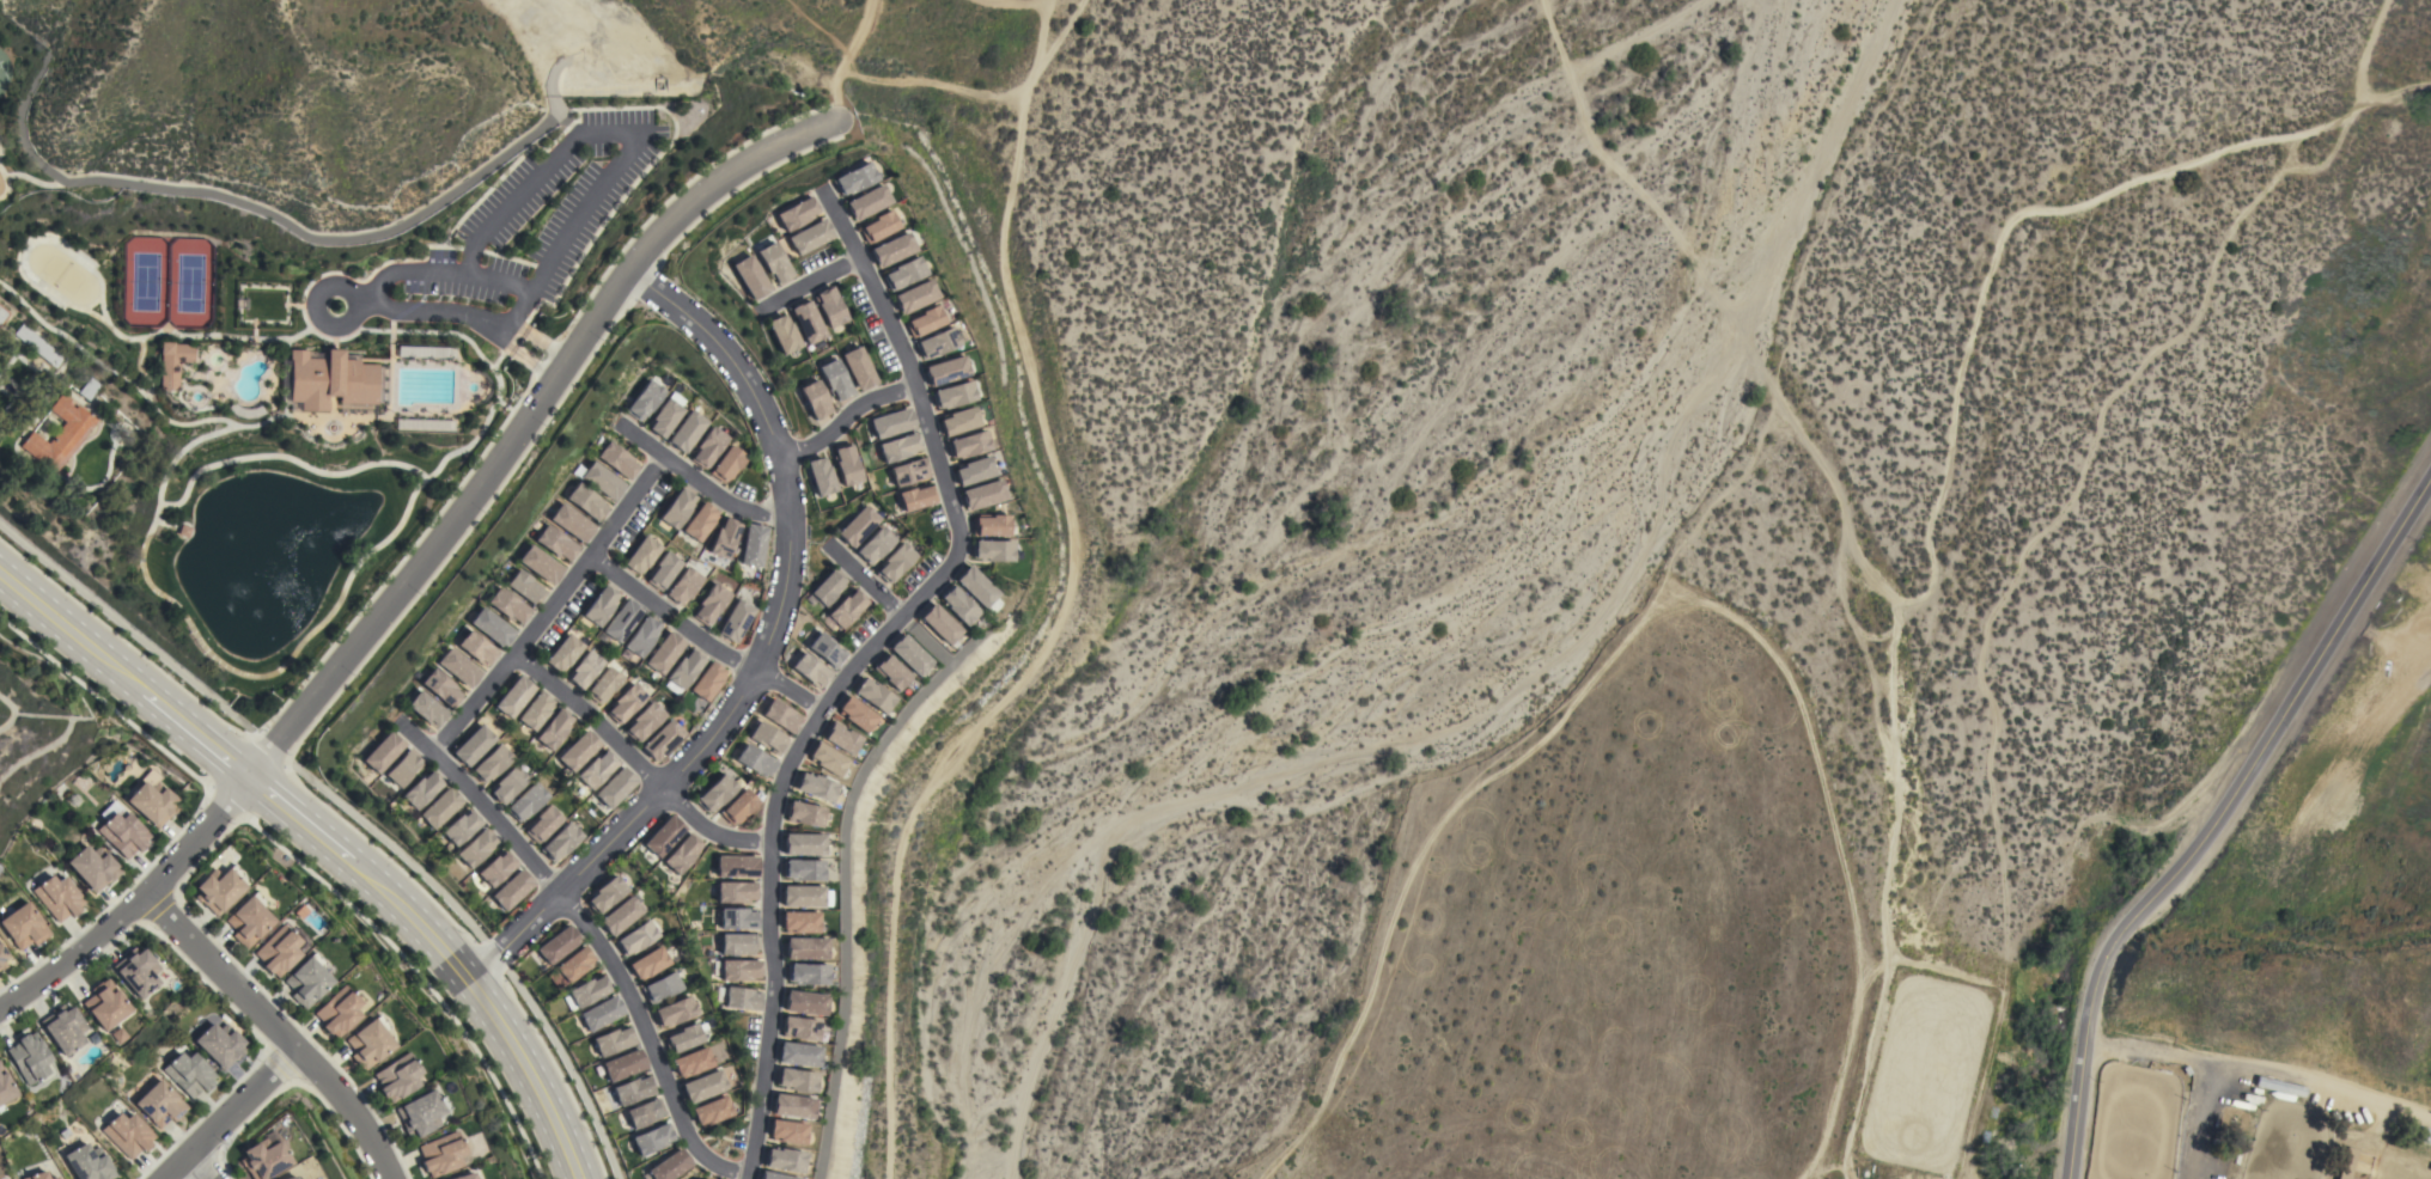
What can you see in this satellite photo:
road: (815, 26)
road: (1633, 32)
road: (842, 57)
road: (931, 81)
road: (2374, 91)
road: (2415, 91)
road: (2289, 151)
road: (2307, 164)
building: (855, 178)
road: (529, 183)
building: (867, 202)
building: (798, 214)
building: (878, 226)
building: (810, 236)
building: (891, 249)
building: (775, 263)
wastewater plant: (98, 271)
building: (902, 273)
building: (751, 276)
road: (495, 282)
road: (805, 283)
building: (913, 295)
road: (313, 304)
building: (829, 306)
building: (2, 314)
building: (922, 320)
building: (808, 322)
building: (785, 334)
building: (936, 342)
building: (37, 344)
building: (172, 362)
building: (858, 367)
building: (945, 369)
building: (835, 379)
building: (331, 381)
building: (90, 389)
building: (952, 395)
building: (647, 399)
building: (816, 399)
road: (514, 417)
building: (666, 417)
road: (843, 417)
building: (958, 421)
building: (892, 422)
building: (688, 430)
building: (61, 434)
building: (968, 444)
building: (709, 447)
building: (898, 447)
building: (619, 459)
building: (729, 464)
building: (846, 464)
building: (974, 470)
building: (909, 472)
building: (821, 476)
building: (603, 481)
road: (700, 485)
building: (983, 494)
building: (916, 496)
building: (587, 501)
building: (677, 507)
road: (1923, 507)
building: (700, 521)
building: (572, 523)
building: (858, 525)
building: (991, 525)
building: (724, 538)
building: (556, 543)
building: (753, 545)
building: (876, 545)
building: (992, 550)
building: (641, 555)
building: (895, 562)
building: (542, 564)
building: (663, 570)
road: (861, 580)
road: (629, 585)
building: (526, 586)
building: (683, 586)
building: (828, 587)
building: (980, 588)
building: (711, 603)
building: (510, 605)
building: (601, 605)
building: (959, 605)
road: (550, 607)
building: (846, 607)
road: (1059, 609)
building: (622, 621)
building: (736, 621)
building: (940, 623)
building: (493, 627)
road: (66, 629)
road: (126, 630)
building: (642, 636)
building: (479, 648)
building: (827, 649)
road: (762, 652)
building: (563, 653)
building: (664, 653)
building: (910, 654)
road: (860, 665)
building: (461, 666)
building: (684, 668)
building: (585, 670)
building: (810, 670)
building: (891, 671)
road: (750, 672)
building: (708, 682)
road: (549, 683)
building: (604, 685)
building: (443, 688)
building: (873, 695)
building: (514, 696)
building: (626, 703)
road: (103, 707)
building: (427, 708)
building: (536, 710)
building: (857, 713)
building: (781, 715)
building: (645, 721)
building: (554, 728)
road: (188, 731)
building: (841, 737)
building: (768, 738)
building: (663, 740)
building: (475, 745)
road: (269, 749)
building: (579, 751)
building: (384, 752)
building: (827, 759)
building: (755, 760)
building: (493, 763)
building: (406, 768)
building: (597, 769)
building: (508, 784)
building: (816, 786)
building: (615, 787)
building: (424, 789)
building: (715, 793)
building: (152, 800)
building: (528, 801)
road: (674, 802)
road: (225, 805)
building: (738, 806)
building: (441, 807)
road: (482, 808)
building: (805, 813)
road: (2216, 820)
building: (543, 824)
road: (303, 825)
building: (462, 826)
building: (124, 833)
building: (664, 836)
building: (561, 842)
building: (804, 844)
building: (477, 848)
building: (682, 853)
building: (737, 866)
building: (93, 868)
building: (498, 868)
building: (803, 869)
building: (219, 888)
building: (512, 890)
building: (736, 891)
building: (605, 893)
building: (806, 896)
building: (59, 897)
road: (132, 904)
building: (621, 915)
building: (738, 918)
building: (249, 920)
building: (800, 922)
building: (24, 926)
building: (636, 937)
building: (738, 943)
road: (483, 945)
building: (558, 945)
building: (808, 948)
building: (278, 951)
building: (2, 957)
building: (648, 963)
building: (571, 967)
building: (741, 970)
building: (138, 971)
building: (809, 973)
road: (416, 977)
building: (307, 979)
building: (662, 988)
building: (586, 991)
building: (743, 998)
building: (808, 1002)
building: (106, 1004)
building: (339, 1012)
road: (487, 1012)
building: (675, 1012)
building: (602, 1013)
building: (63, 1027)
road: (278, 1027)
building: (803, 1027)
building: (683, 1038)
road: (653, 1039)
building: (614, 1040)
building: (368, 1043)
building: (220, 1044)
building: (802, 1053)
building: (32, 1058)
building: (691, 1062)
building: (623, 1064)
road: (2260, 1067)
building: (189, 1074)
building: (397, 1077)
building: (798, 1080)
building: (703, 1086)
building: (2279, 1086)
building: (5, 1087)
building: (633, 1089)
building: (160, 1104)
building: (794, 1105)
building: (711, 1111)
building: (421, 1112)
building: (645, 1112)
road: (229, 1113)
road: (2200, 1118)
building: (790, 1131)
building: (2417, 1131)
building: (128, 1134)
building: (653, 1138)
building: (441, 1154)
building: (263, 1159)
building: (787, 1159)
building: (2348, 1162)
building: (89, 1163)
road: (200, 1165)
building: (669, 1166)
building: (37, 1175)
building: (464, 1175)
building: (775, 1175)
building: (54, 1178)
building: (290, 1178)

